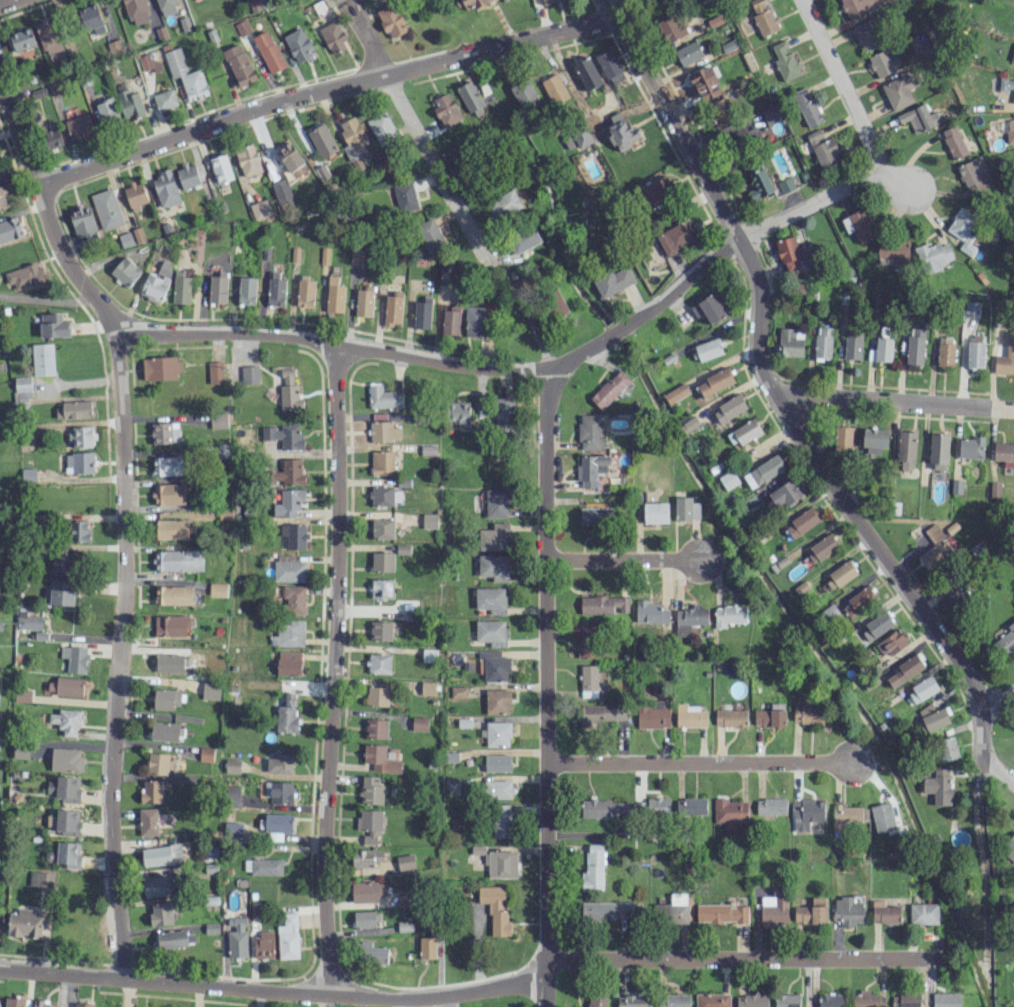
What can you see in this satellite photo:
road: (4, 1)
building: (550, 1)
building: (472, 3)
building: (166, 7)
building: (854, 7)
building: (137, 11)
building: (763, 16)
building: (91, 18)
building: (391, 21)
building: (242, 27)
building: (671, 27)
building: (869, 33)
building: (333, 37)
building: (53, 38)
building: (22, 39)
building: (298, 45)
road: (369, 46)
building: (269, 51)
building: (688, 52)
building: (1012, 56)
building: (784, 61)
building: (883, 63)
building: (239, 64)
building: (610, 66)
building: (185, 74)
building: (705, 82)
building: (1007, 85)
road: (842, 87)
road: (322, 88)
building: (898, 91)
building: (469, 96)
building: (164, 99)
building: (129, 103)
building: (807, 106)
building: (446, 109)
building: (106, 110)
building: (770, 113)
building: (722, 115)
building: (919, 118)
building: (79, 126)
building: (382, 129)
building: (1008, 130)
building: (622, 132)
building: (814, 136)
building: (741, 137)
building: (52, 138)
building: (577, 138)
building: (322, 140)
building: (354, 141)
building: (954, 141)
building: (826, 153)
building: (248, 160)
building: (291, 160)
road: (436, 167)
building: (220, 168)
building: (975, 175)
building: (187, 176)
building: (759, 182)
building: (786, 184)
road: (897, 184)
building: (165, 188)
building: (281, 191)
building: (656, 192)
building: (135, 195)
building: (405, 196)
building: (2, 200)
building: (504, 204)
building: (262, 208)
building: (106, 209)
building: (82, 221)
building: (863, 224)
building: (10, 229)
building: (963, 229)
building: (137, 234)
building: (429, 235)
building: (677, 237)
building: (524, 239)
building: (892, 252)
building: (789, 253)
building: (933, 255)
building: (125, 271)
building: (25, 276)
building: (612, 281)
building: (157, 282)
building: (181, 288)
building: (217, 288)
building: (275, 289)
building: (246, 290)
building: (305, 291)
building: (334, 295)
road: (48, 299)
building: (363, 301)
building: (554, 304)
building: (708, 306)
building: (393, 309)
building: (422, 313)
building: (450, 320)
building: (474, 321)
building: (53, 325)
road: (531, 329)
building: (823, 342)
building: (789, 343)
building: (852, 346)
building: (708, 349)
building: (881, 349)
building: (914, 349)
building: (945, 351)
building: (971, 354)
building: (43, 359)
building: (1004, 365)
building: (161, 368)
road: (526, 369)
road: (761, 369)
building: (215, 372)
building: (249, 374)
building: (715, 382)
building: (610, 389)
building: (289, 390)
building: (22, 391)
building: (676, 393)
building: (383, 397)
road: (896, 401)
building: (729, 408)
building: (73, 410)
building: (503, 411)
building: (459, 413)
building: (218, 420)
building: (384, 431)
building: (165, 432)
building: (591, 432)
building: (744, 432)
building: (284, 436)
building: (80, 437)
building: (842, 437)
building: (874, 440)
building: (970, 447)
building: (906, 448)
building: (938, 451)
building: (1004, 453)
building: (79, 462)
building: (382, 463)
building: (168, 465)
building: (591, 469)
building: (763, 471)
building: (288, 472)
building: (28, 475)
building: (729, 479)
building: (995, 489)
building: (169, 493)
building: (784, 493)
building: (381, 495)
building: (288, 502)
building: (495, 503)
building: (686, 509)
building: (655, 512)
road: (122, 515)
building: (596, 515)
building: (429, 520)
building: (801, 522)
building: (382, 528)
building: (172, 529)
building: (78, 531)
building: (933, 532)
building: (294, 535)
building: (494, 537)
building: (824, 546)
building: (936, 553)
road: (624, 558)
building: (178, 560)
building: (382, 561)
building: (61, 564)
building: (494, 567)
building: (289, 569)
building: (843, 573)
building: (381, 588)
building: (217, 589)
building: (61, 593)
building: (173, 595)
building: (956, 596)
building: (292, 599)
building: (490, 599)
building: (858, 601)
building: (604, 604)
building: (651, 612)
building: (729, 615)
building: (27, 619)
building: (689, 619)
building: (171, 625)
building: (876, 626)
building: (380, 630)
building: (490, 632)
building: (288, 633)
building: (1005, 641)
building: (587, 642)
building: (891, 643)
building: (428, 654)
building: (75, 658)
building: (169, 662)
building: (288, 663)
building: (378, 663)
building: (494, 665)
road: (331, 670)
building: (904, 671)
building: (588, 681)
building: (66, 686)
road: (545, 686)
building: (427, 688)
building: (922, 689)
building: (210, 690)
building: (458, 691)
building: (22, 695)
building: (377, 696)
building: (167, 698)
road: (999, 699)
building: (497, 701)
building: (601, 713)
building: (286, 714)
building: (807, 714)
building: (653, 715)
building: (770, 716)
building: (689, 717)
building: (934, 717)
building: (730, 718)
building: (66, 721)
building: (419, 723)
building: (375, 728)
building: (166, 731)
building: (497, 734)
road: (984, 736)
building: (946, 748)
building: (20, 751)
building: (205, 754)
building: (379, 758)
building: (66, 760)
road: (695, 760)
building: (280, 762)
building: (158, 763)
building: (497, 763)
building: (232, 765)
road: (1000, 773)
building: (938, 786)
building: (65, 788)
building: (498, 789)
building: (371, 790)
building: (151, 791)
building: (279, 792)
building: (231, 796)
building: (690, 806)
building: (771, 806)
building: (658, 807)
building: (605, 808)
building: (730, 812)
building: (808, 813)
building: (849, 816)
building: (882, 817)
building: (369, 819)
building: (502, 820)
building: (66, 821)
building: (148, 821)
building: (276, 822)
building: (232, 829)
building: (369, 838)
building: (1009, 846)
building: (68, 854)
building: (162, 855)
building: (366, 857)
building: (405, 862)
building: (498, 862)
building: (263, 866)
building: (593, 868)
building: (40, 878)
building: (158, 886)
building: (382, 888)
building: (364, 891)
building: (495, 908)
building: (774, 908)
building: (607, 910)
building: (671, 910)
building: (848, 911)
building: (812, 912)
building: (884, 912)
building: (161, 913)
building: (721, 913)
building: (923, 913)
building: (364, 918)
building: (24, 923)
building: (288, 937)
building: (175, 938)
building: (237, 938)
building: (263, 945)
building: (427, 947)
building: (370, 952)
road: (479, 991)
building: (867, 999)
building: (946, 999)
building: (633, 1000)
building: (673, 1000)
building: (712, 1000)
building: (751, 1000)
building: (786, 1000)
building: (831, 1000)
building: (905, 1000)
building: (596, 1001)
building: (14, 1002)
building: (41, 1003)
building: (83, 1004)

